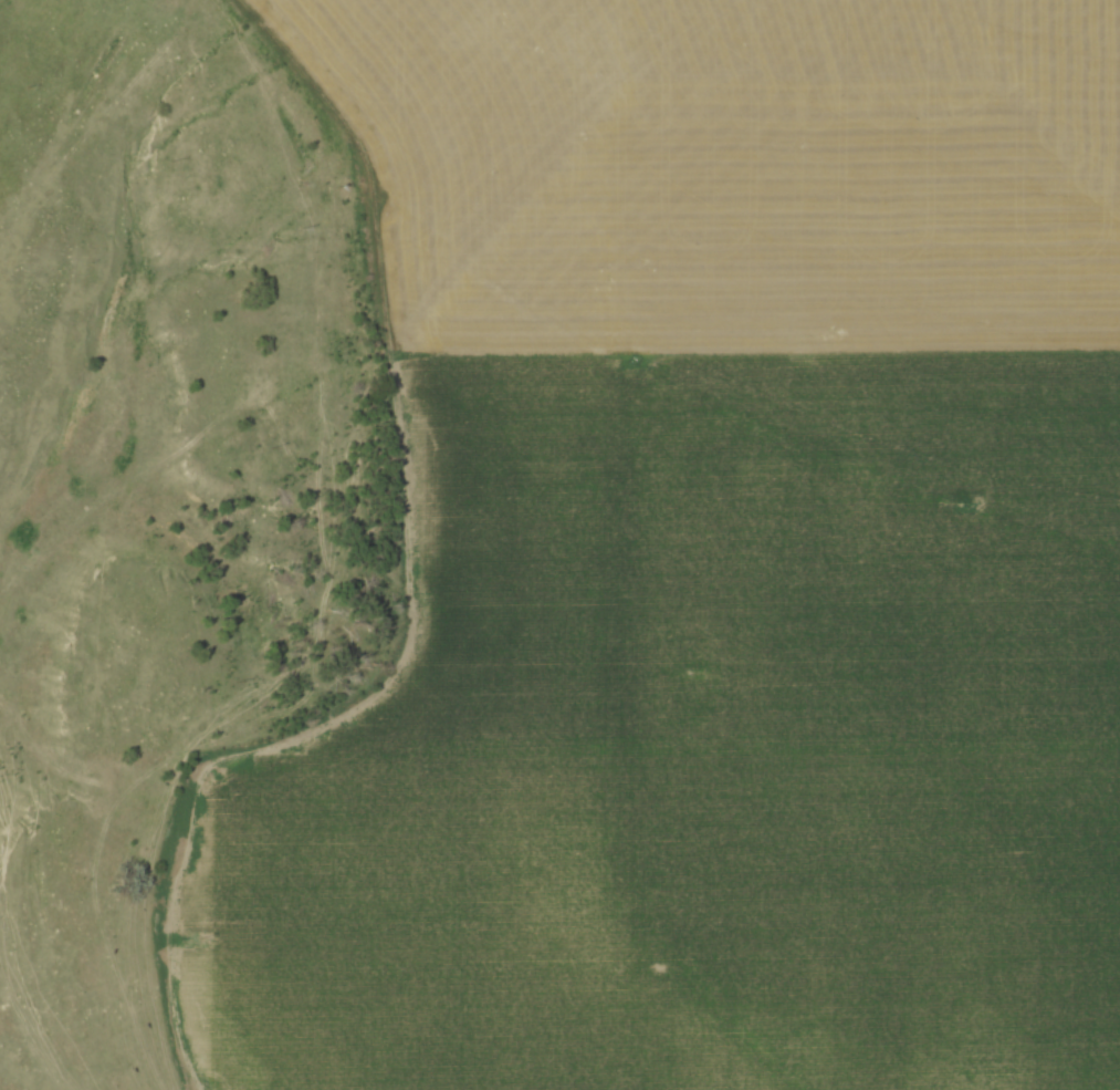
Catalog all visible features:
building: (1043, 370)

